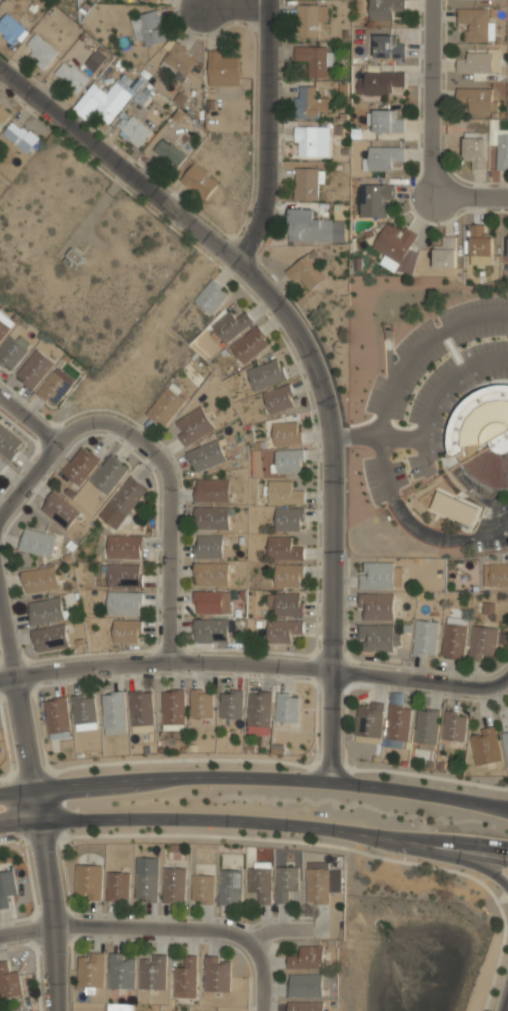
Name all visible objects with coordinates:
building: (159, 0)
road: (234, 7)
building: (386, 9)
building: (310, 20)
building: (477, 23)
building: (150, 28)
building: (11, 29)
road: (209, 30)
road: (260, 45)
building: (387, 47)
building: (41, 50)
building: (95, 60)
building: (313, 60)
building: (180, 61)
building: (477, 62)
building: (222, 68)
building: (71, 76)
building: (379, 83)
road: (435, 99)
building: (479, 100)
building: (103, 101)
building: (308, 103)
building: (3, 115)
building: (386, 122)
building: (134, 129)
road: (269, 133)
building: (21, 135)
building: (312, 142)
building: (474, 152)
building: (502, 152)
building: (169, 153)
building: (384, 158)
building: (199, 182)
building: (306, 184)
road: (471, 196)
building: (375, 200)
building: (309, 228)
building: (397, 247)
building: (481, 247)
building: (446, 253)
building: (507, 255)
building: (73, 259)
building: (307, 271)
building: (212, 296)
building: (231, 324)
building: (4, 328)
building: (250, 344)
road: (420, 347)
parking lot: (485, 348)
building: (12, 352)
road: (307, 358)
building: (34, 370)
building: (266, 373)
building: (53, 389)
road: (436, 396)
building: (279, 399)
building: (166, 406)
building: (193, 425)
building: (287, 433)
road: (356, 434)
building: (483, 436)
building: (9, 443)
building: (206, 455)
road: (424, 455)
building: (289, 461)
road: (162, 463)
building: (80, 466)
building: (1, 467)
building: (108, 476)
road: (27, 479)
building: (212, 490)
building: (283, 491)
building: (127, 496)
building: (453, 507)
building: (60, 510)
building: (211, 518)
building: (289, 518)
road: (412, 525)
building: (38, 542)
building: (125, 547)
building: (208, 547)
building: (282, 547)
building: (211, 574)
building: (499, 574)
building: (289, 575)
building: (124, 576)
building: (378, 576)
building: (39, 580)
building: (211, 603)
building: (286, 603)
building: (124, 604)
building: (376, 607)
building: (46, 611)
building: (282, 630)
building: (210, 631)
building: (126, 632)
building: (426, 637)
building: (50, 638)
building: (378, 638)
building: (454, 641)
building: (483, 643)
road: (165, 659)
road: (422, 678)
road: (18, 689)
building: (201, 705)
building: (231, 705)
building: (173, 708)
building: (141, 709)
building: (287, 709)
building: (84, 712)
building: (113, 713)
building: (259, 713)
building: (57, 717)
building: (369, 719)
building: (397, 720)
building: (426, 726)
building: (454, 727)
building: (505, 743)
building: (485, 747)
road: (374, 770)
road: (255, 777)
road: (504, 808)
road: (255, 819)
road: (429, 854)
building: (88, 882)
building: (285, 884)
building: (259, 885)
building: (317, 885)
building: (173, 886)
building: (6, 887)
building: (117, 887)
building: (146, 888)
building: (229, 888)
building: (202, 890)
road: (46, 898)
road: (162, 930)
building: (307, 959)
road: (260, 967)
building: (91, 971)
building: (121, 972)
building: (152, 974)
building: (216, 975)
building: (185, 979)
building: (9, 982)
building: (305, 987)
building: (305, 1007)
road: (507, 1010)

